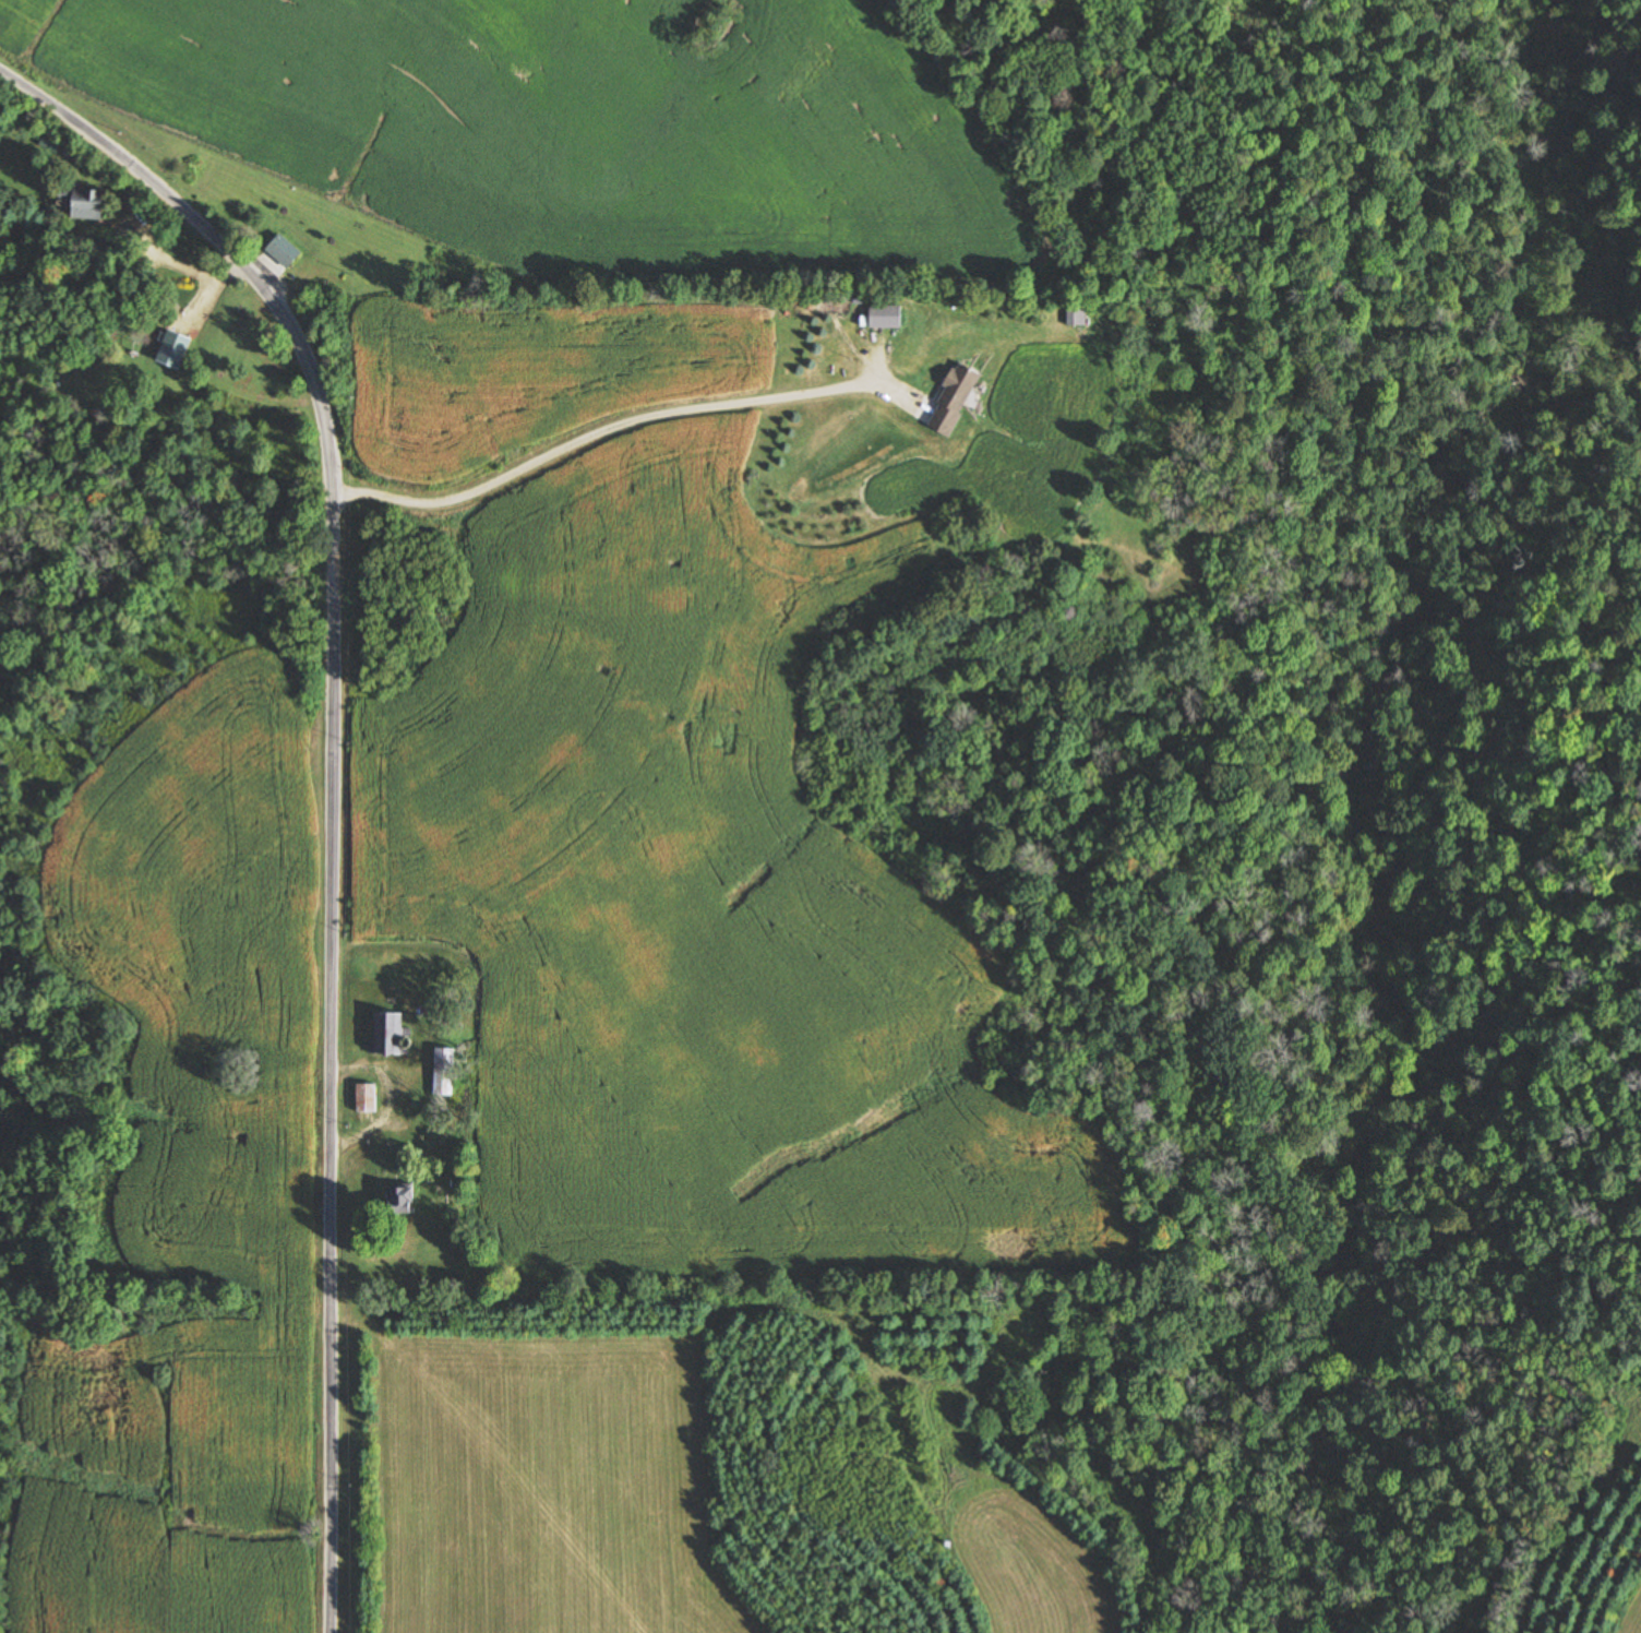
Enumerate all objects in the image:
building: (52, 146)
building: (86, 203)
building: (283, 251)
building: (886, 317)
building: (1077, 318)
building: (176, 349)
building: (957, 400)
road: (331, 780)
building: (387, 1035)
building: (443, 1072)
building: (367, 1098)
building: (403, 1201)

